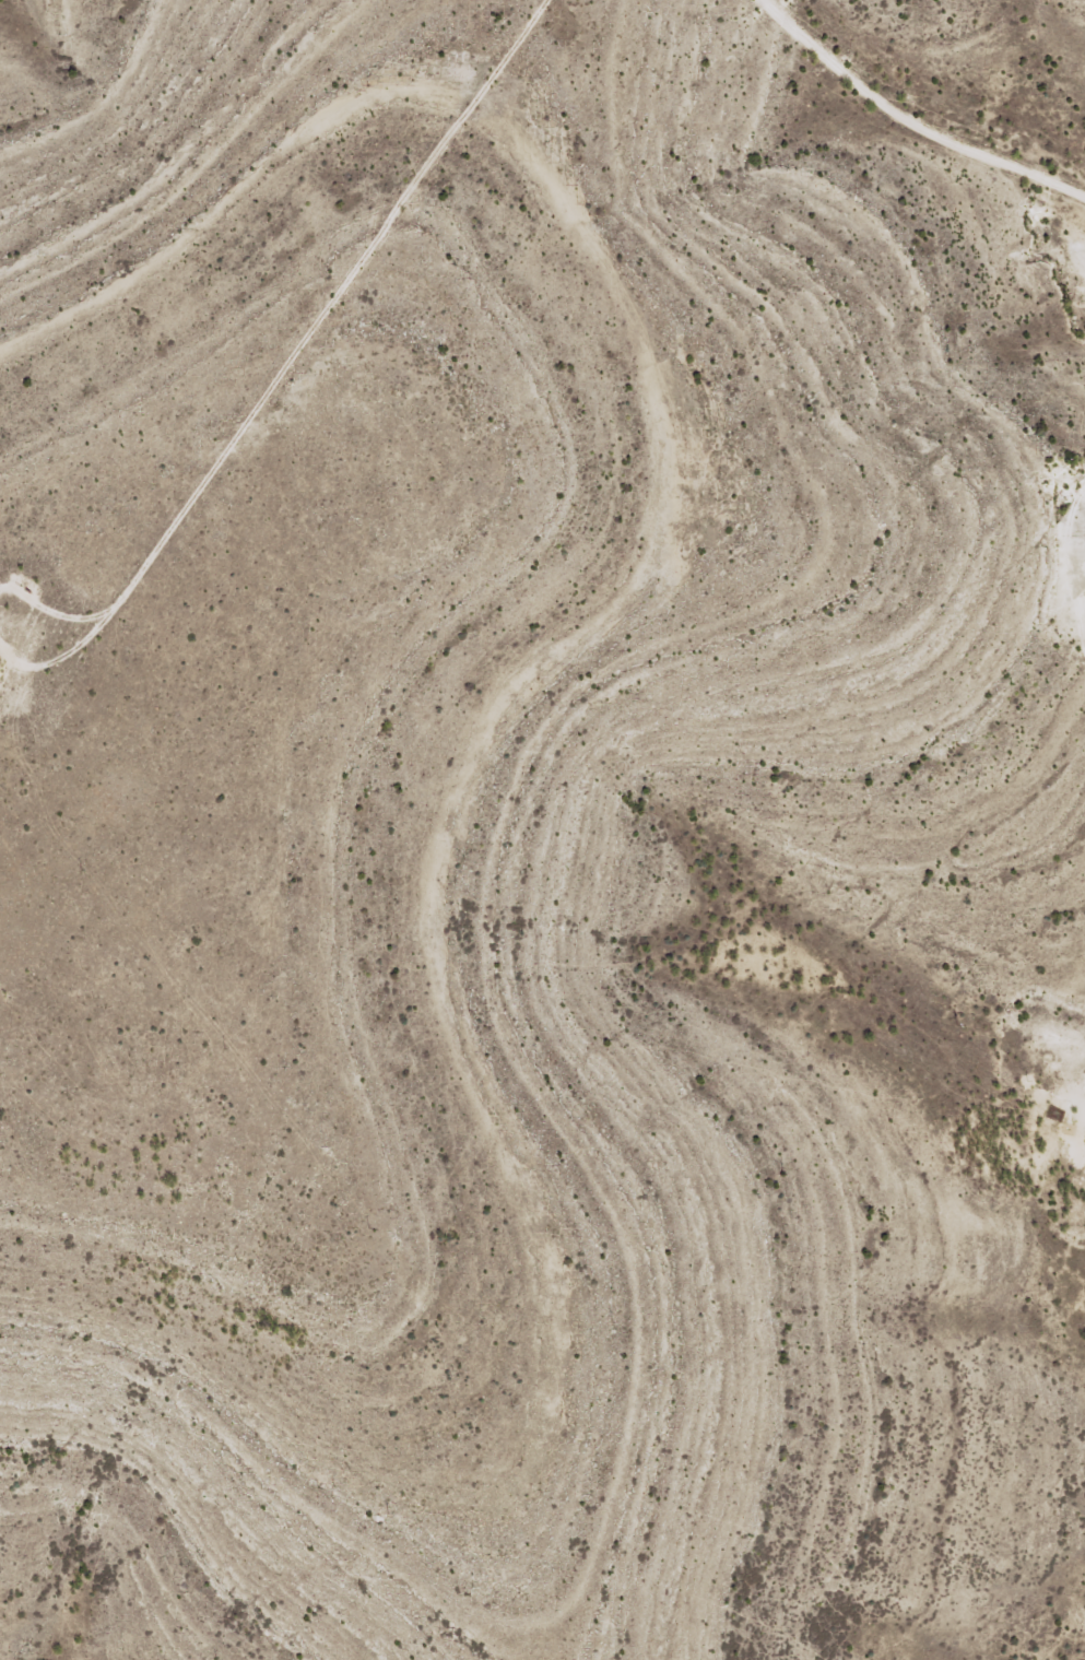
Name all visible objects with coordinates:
road: (946, 101)

